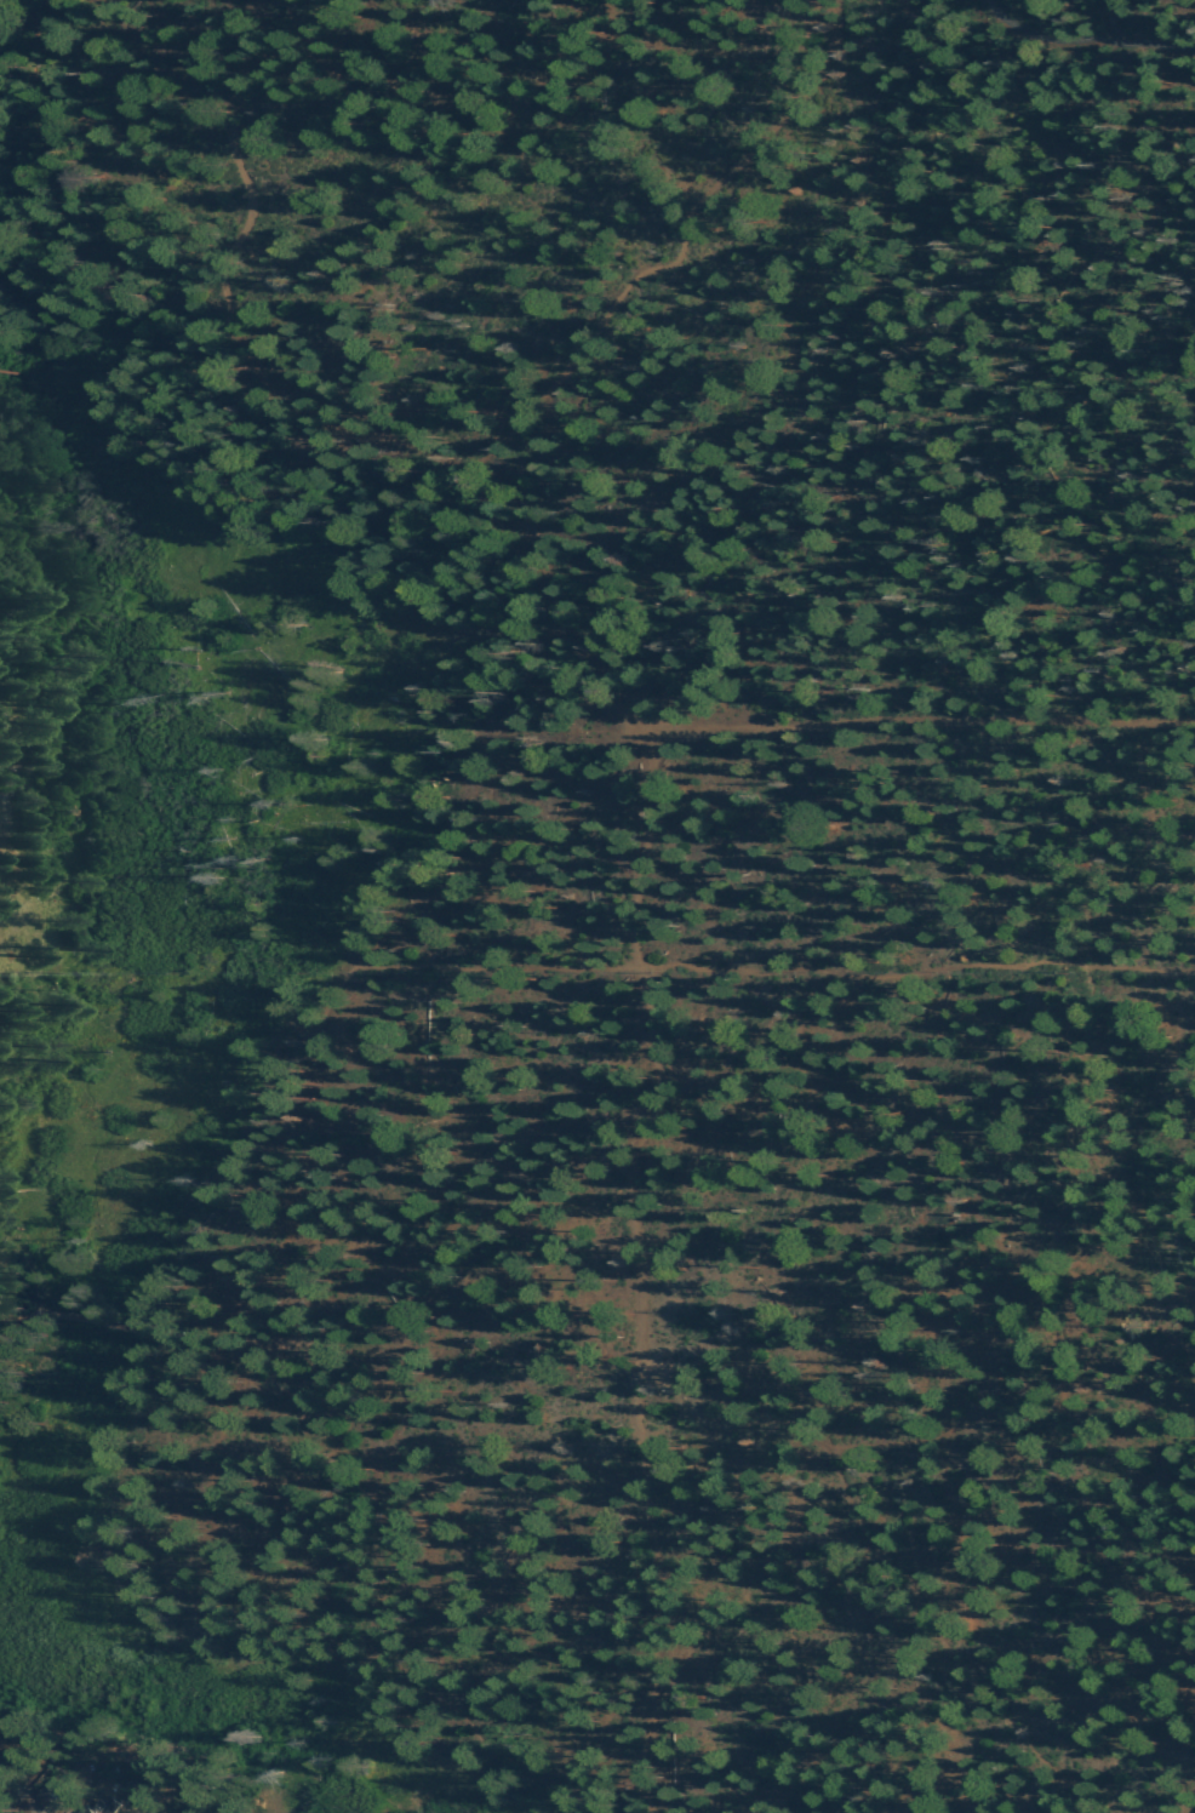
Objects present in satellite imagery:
road: (1115, 18)
road: (1082, 39)
road: (122, 58)
road: (651, 240)
road: (921, 725)
road: (650, 800)
road: (771, 970)
road: (236, 1286)
road: (1014, 1308)
road: (101, 1322)
road: (917, 1435)
road: (914, 1643)
road: (1182, 1798)

